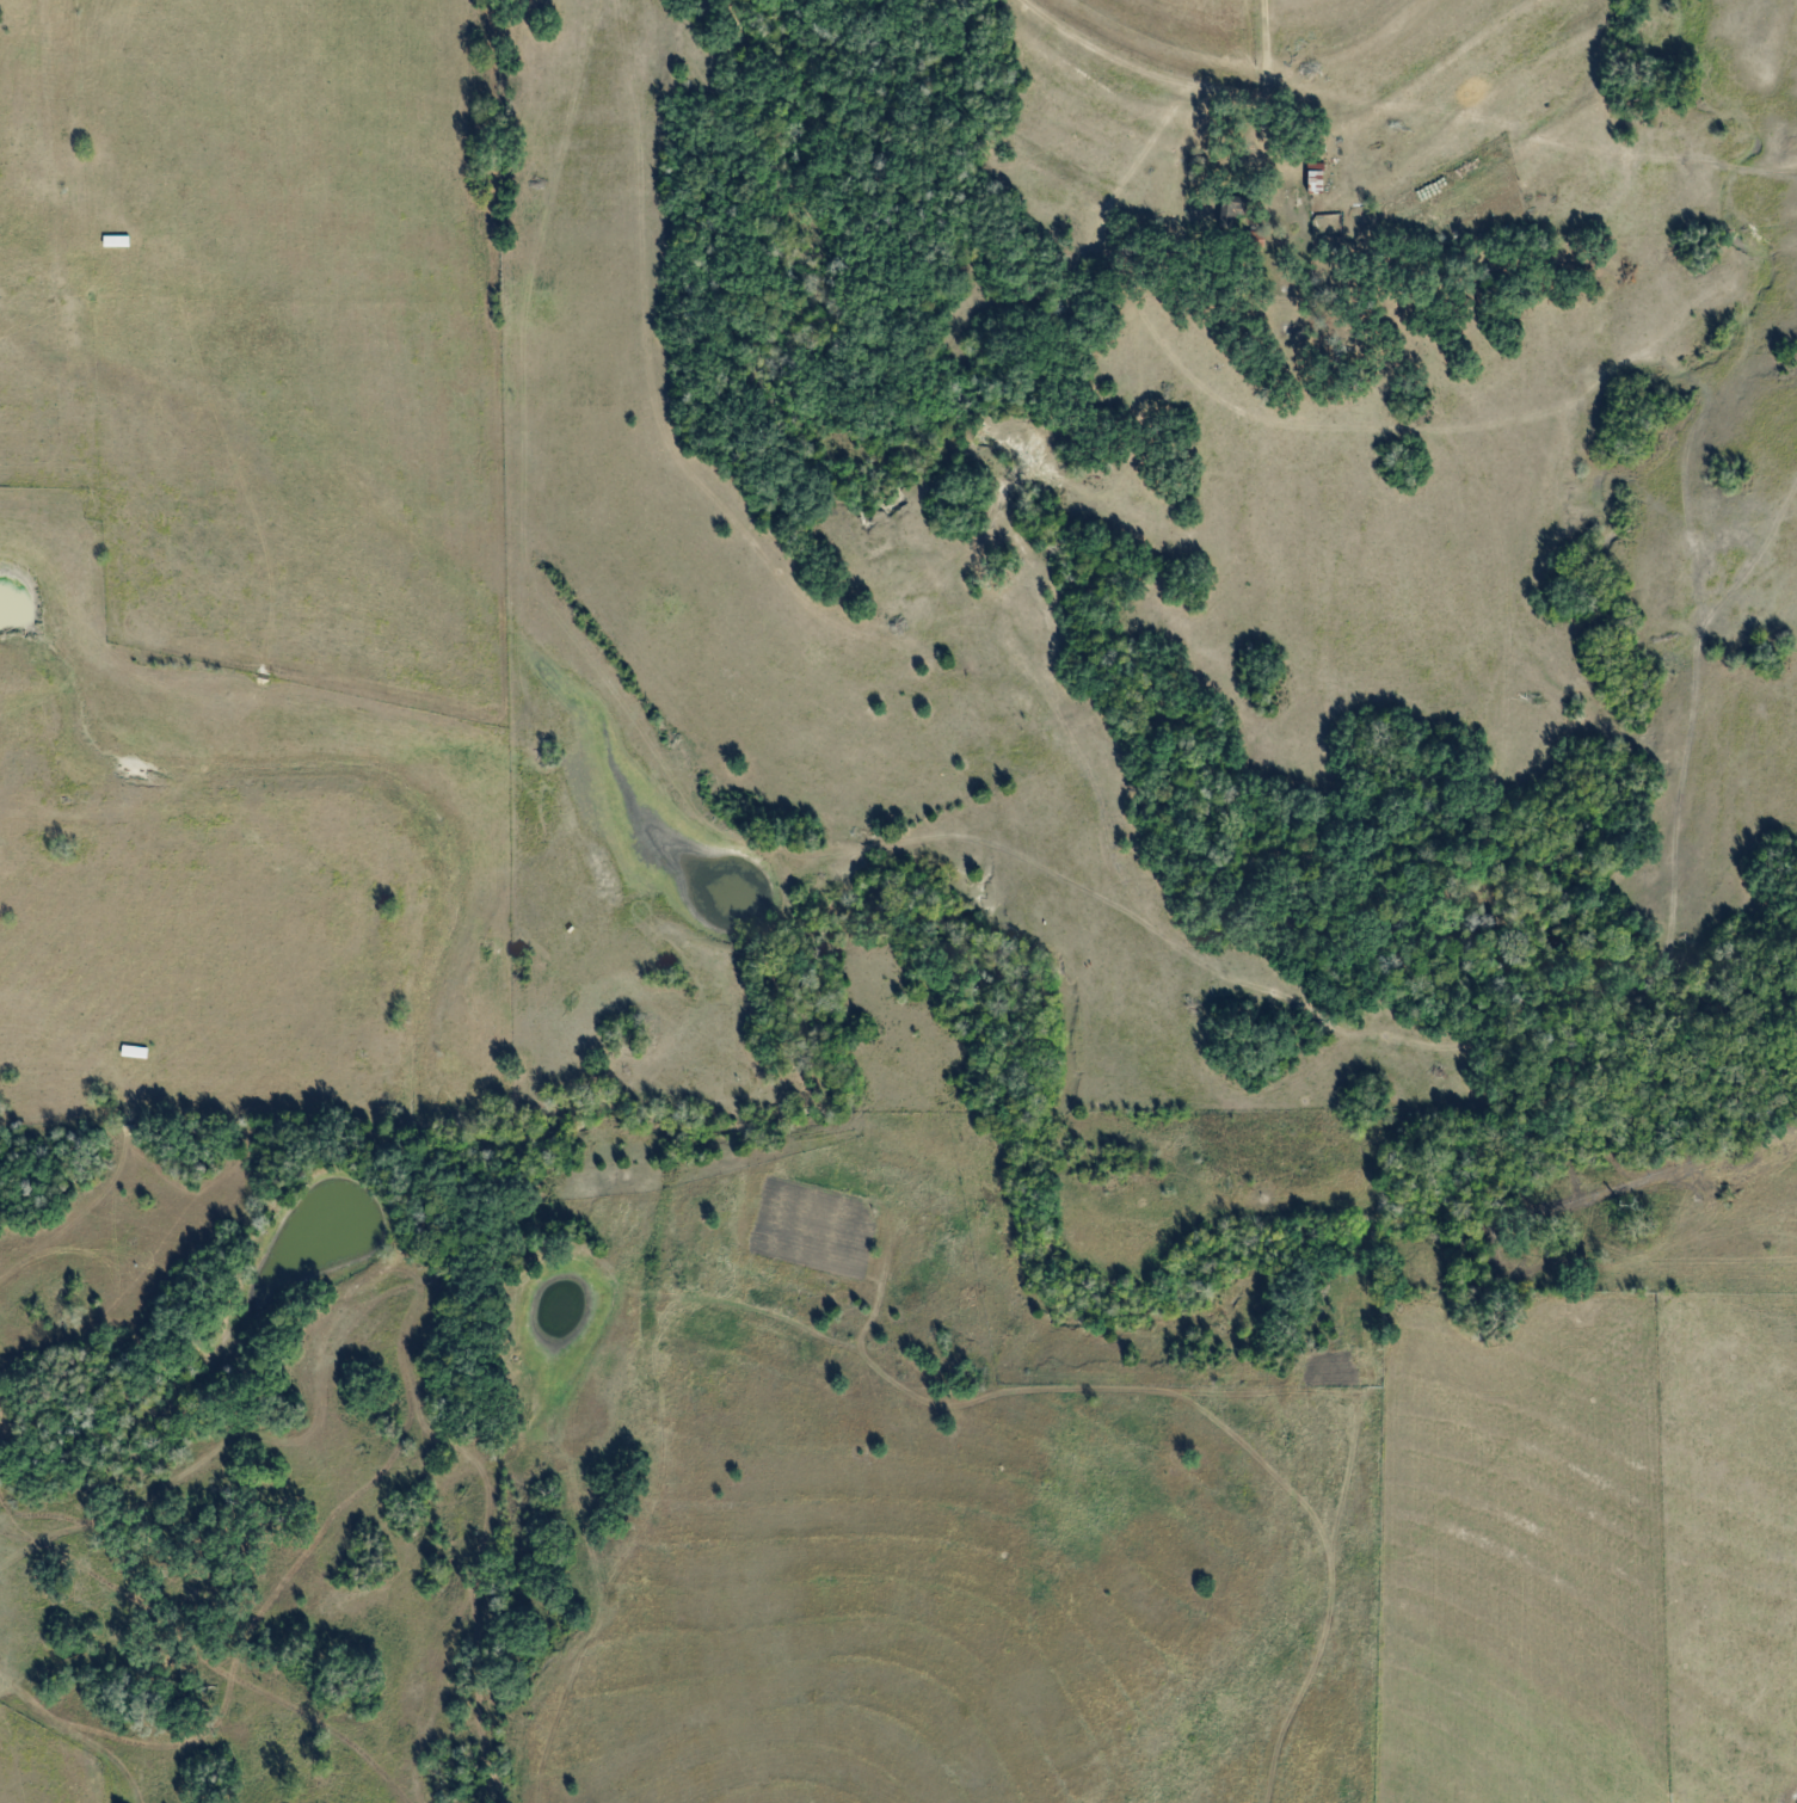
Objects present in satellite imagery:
road: (1260, 74)

